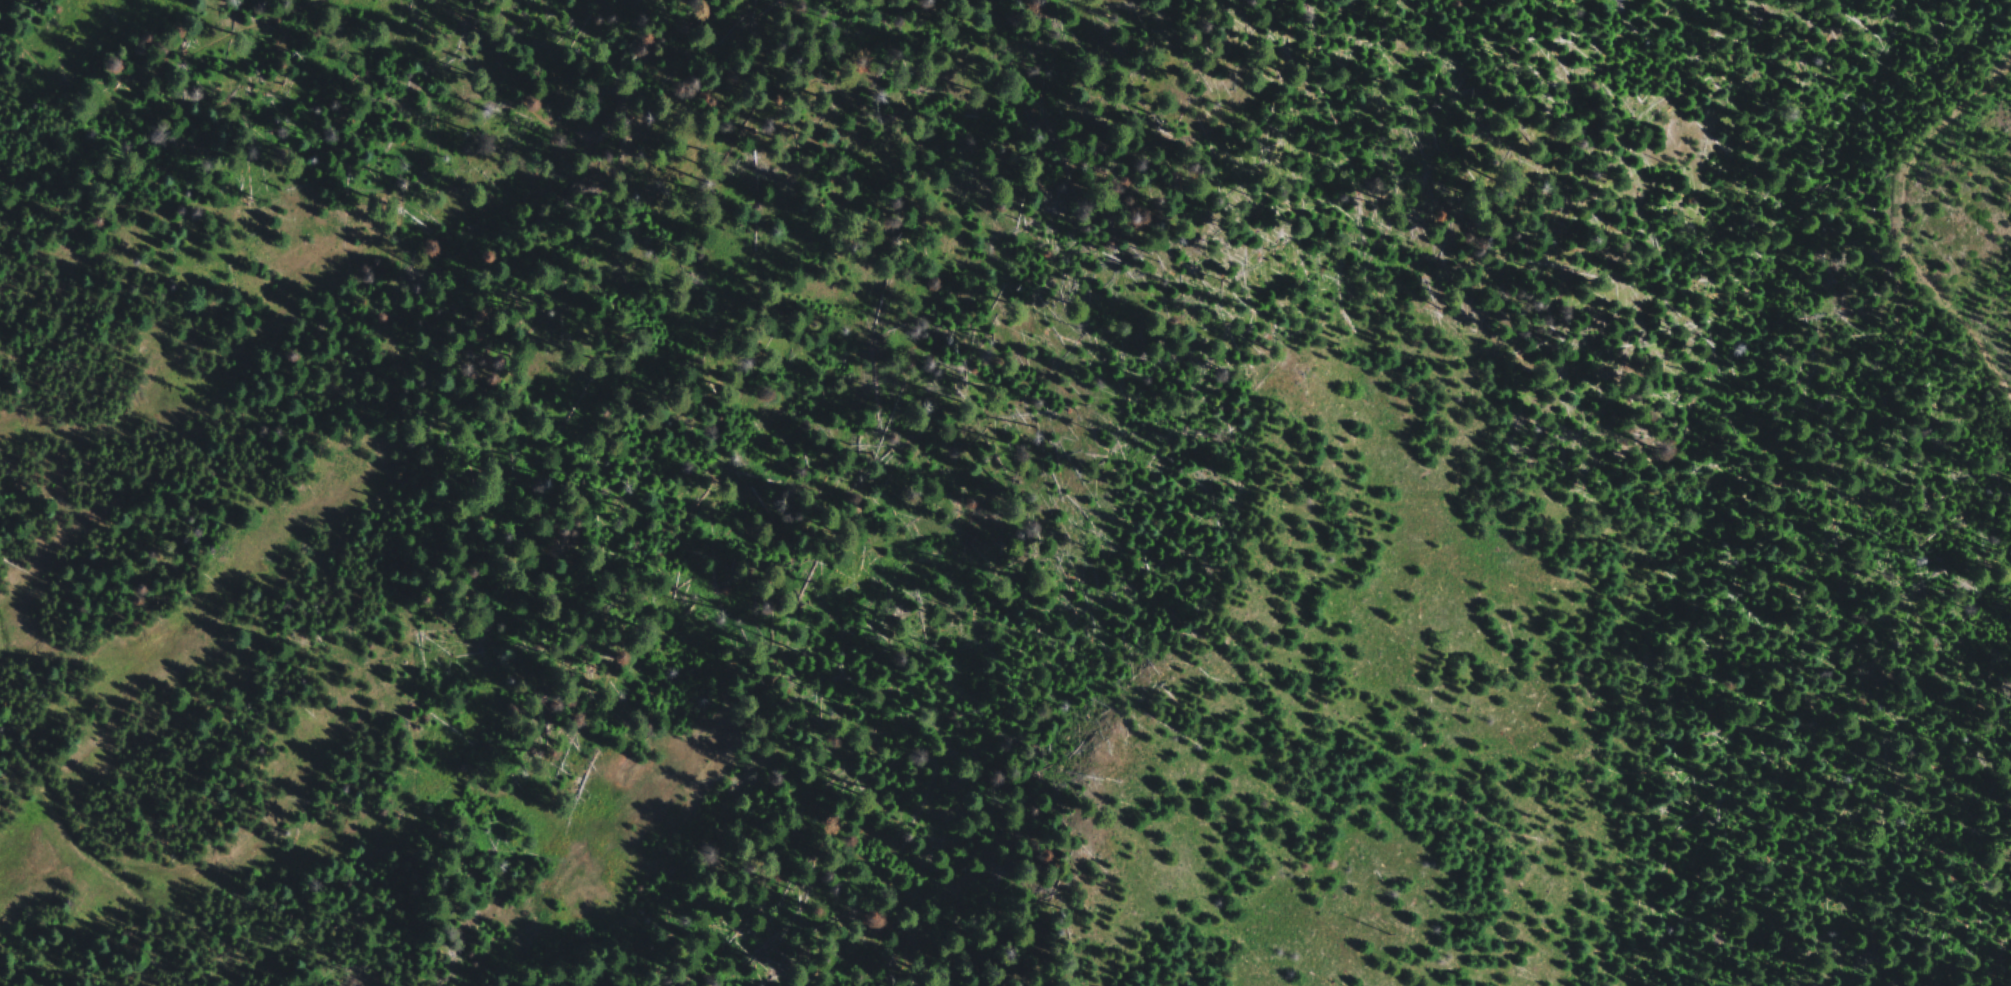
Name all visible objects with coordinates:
road: (166, 68)
road: (516, 94)

